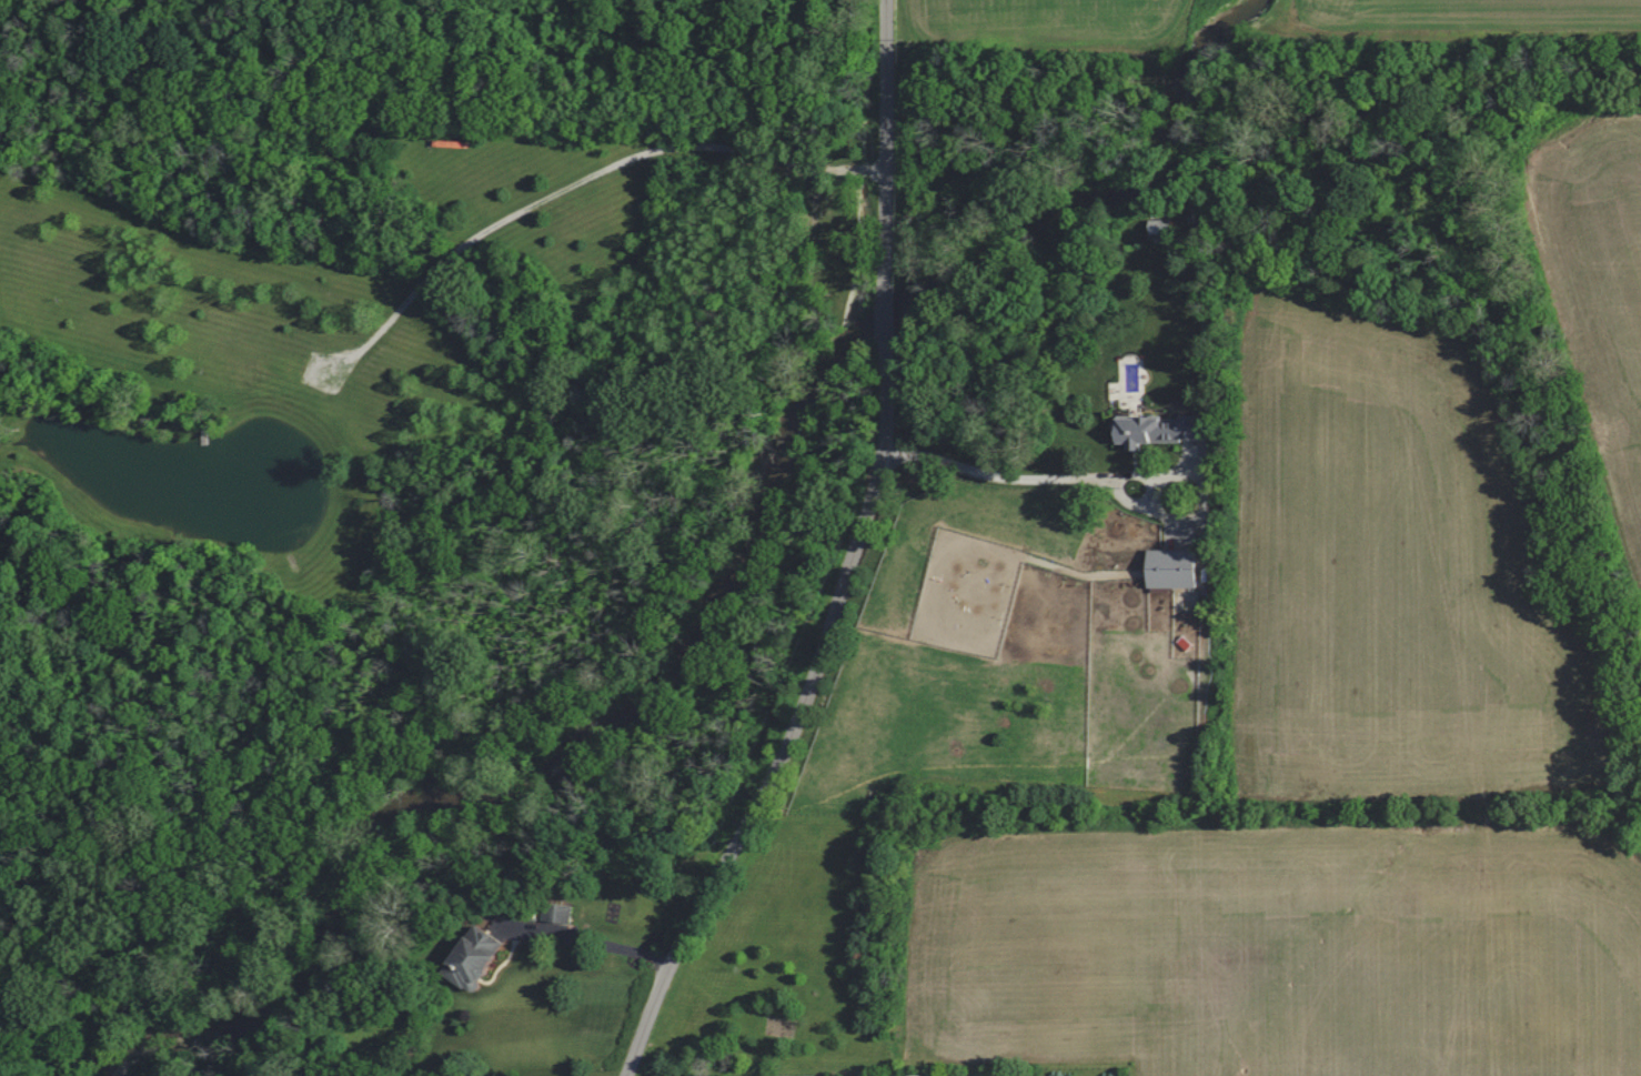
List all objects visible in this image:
road: (889, 285)
building: (1148, 430)
building: (1189, 448)
road: (1009, 475)
building: (1166, 569)
road: (745, 822)
road: (593, 936)
building: (481, 959)

